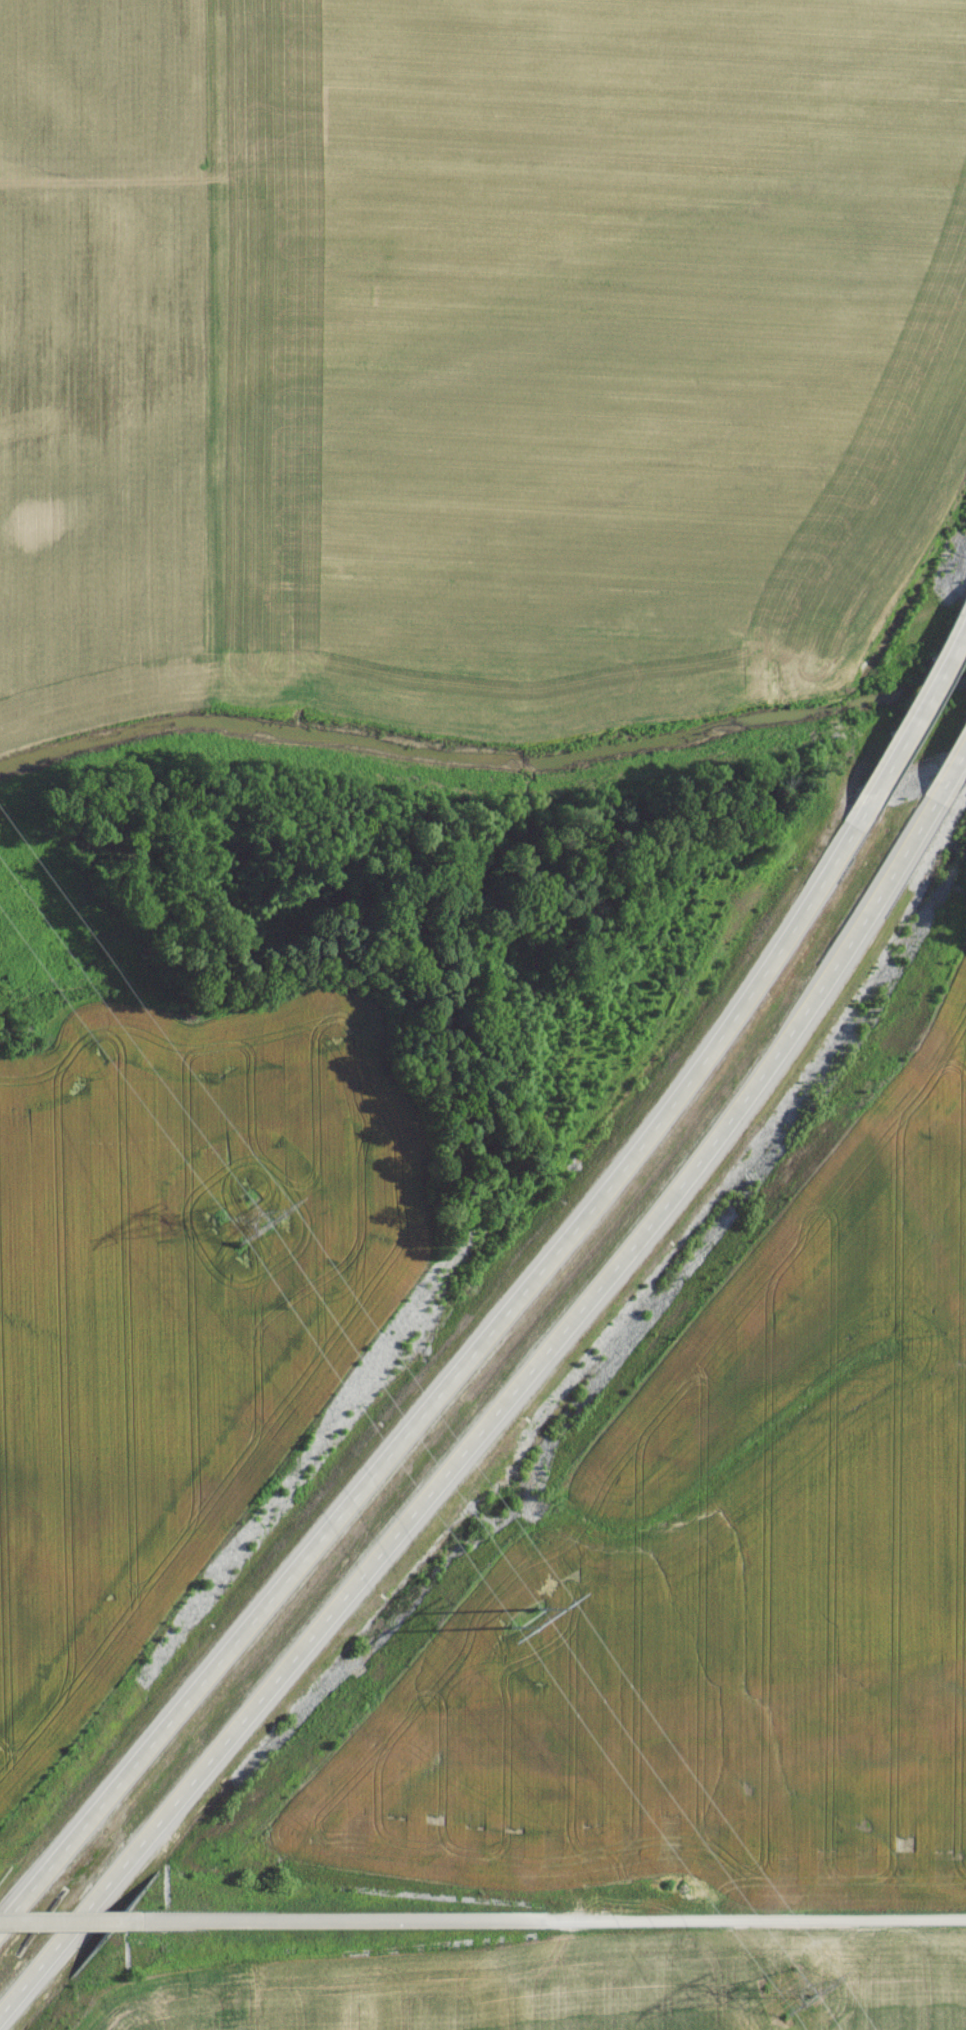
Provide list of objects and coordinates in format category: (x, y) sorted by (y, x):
road: (107, 182)
road: (916, 727)
road: (943, 814)
power tower: (239, 1224)
road: (442, 1389)
road: (470, 1453)
power tower: (523, 1619)
road: (556, 1924)
road: (73, 1927)
power tower: (811, 1992)

